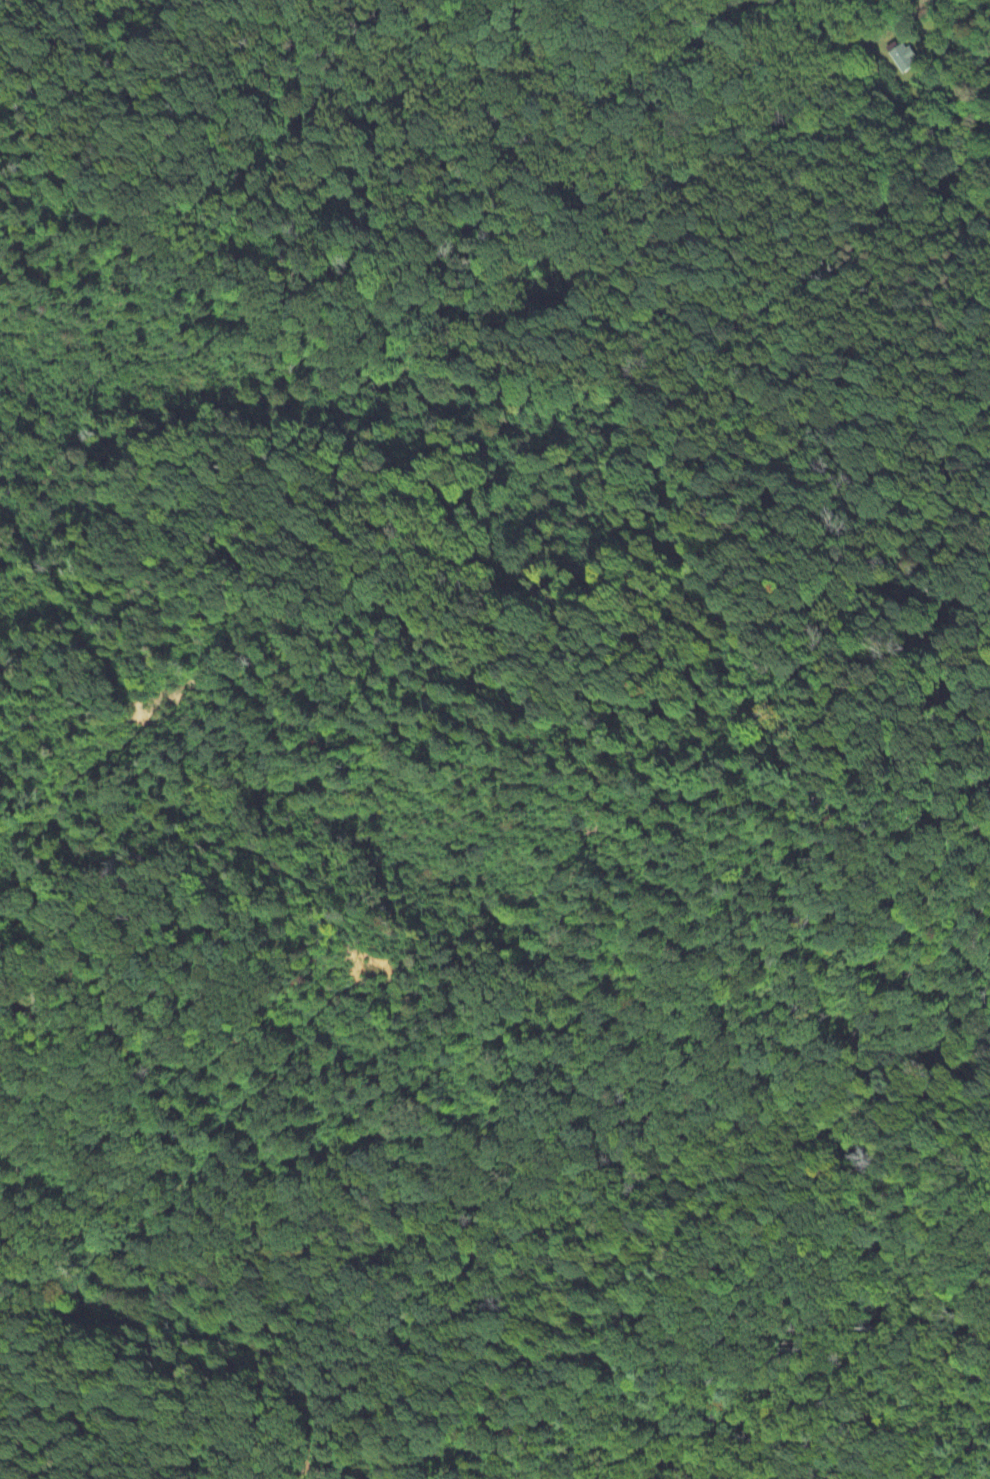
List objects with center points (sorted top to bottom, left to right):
building: (904, 59)

